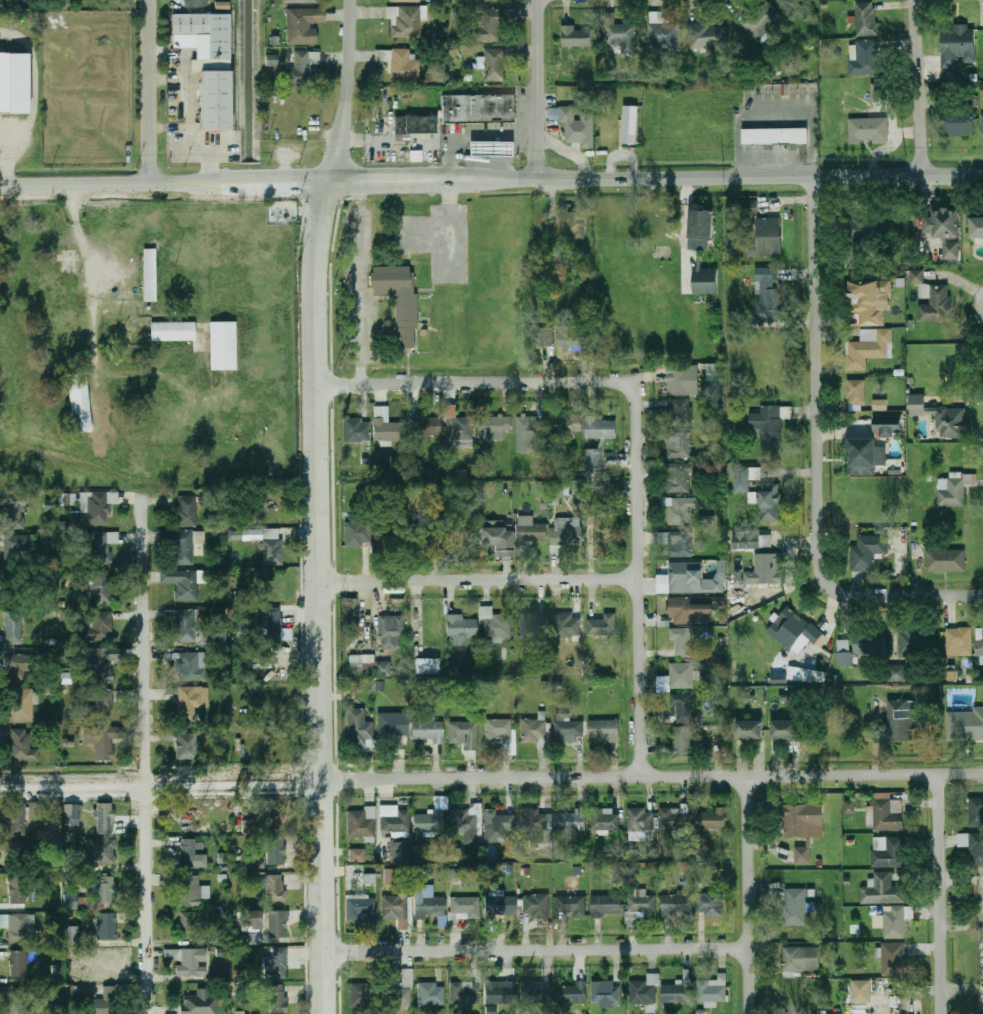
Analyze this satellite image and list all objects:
building: (9, 0)
building: (406, 0)
building: (493, 0)
building: (302, 1)
building: (193, 3)
building: (759, 18)
building: (866, 19)
building: (404, 22)
building: (489, 24)
building: (300, 26)
building: (663, 33)
building: (711, 35)
building: (576, 36)
building: (622, 36)
building: (951, 53)
building: (864, 57)
building: (208, 63)
building: (494, 63)
building: (404, 66)
building: (300, 70)
building: (14, 82)
road: (916, 87)
road: (537, 90)
building: (877, 91)
road: (151, 92)
road: (347, 92)
building: (480, 110)
building: (982, 119)
building: (958, 122)
building: (414, 124)
building: (629, 124)
building: (577, 125)
building: (868, 129)
road: (474, 137)
building: (778, 138)
building: (490, 148)
road: (507, 159)
road: (8, 167)
road: (724, 177)
road: (397, 181)
road: (275, 183)
road: (110, 185)
building: (744, 207)
building: (577, 225)
road: (319, 226)
building: (976, 227)
building: (893, 228)
building: (943, 230)
building: (766, 237)
building: (857, 237)
building: (695, 260)
road: (955, 274)
building: (150, 275)
building: (916, 276)
road: (360, 283)
building: (767, 294)
building: (398, 299)
building: (868, 300)
building: (933, 302)
building: (172, 331)
building: (546, 336)
building: (573, 340)
building: (223, 346)
building: (867, 348)
building: (714, 378)
building: (683, 379)
road: (472, 382)
building: (858, 393)
building: (79, 403)
road: (817, 403)
building: (879, 404)
building: (678, 411)
building: (951, 422)
building: (385, 424)
building: (565, 424)
building: (887, 425)
building: (424, 426)
building: (768, 426)
building: (495, 427)
building: (600, 427)
building: (459, 428)
building: (356, 430)
building: (527, 434)
building: (678, 445)
building: (862, 456)
building: (594, 458)
building: (678, 477)
building: (744, 477)
building: (560, 491)
building: (951, 492)
building: (72, 500)
building: (770, 501)
building: (48, 505)
building: (93, 508)
building: (680, 509)
building: (187, 511)
building: (10, 512)
building: (531, 532)
building: (566, 533)
building: (357, 534)
building: (425, 534)
building: (457, 535)
building: (497, 539)
building: (752, 541)
building: (178, 544)
building: (680, 544)
building: (17, 546)
building: (101, 546)
building: (272, 546)
building: (866, 552)
building: (944, 559)
building: (765, 569)
building: (680, 577)
building: (717, 578)
road: (636, 580)
road: (477, 582)
building: (182, 583)
building: (102, 587)
road: (926, 596)
building: (692, 610)
building: (270, 622)
building: (495, 622)
building: (532, 624)
building: (186, 625)
building: (567, 625)
building: (602, 625)
building: (13, 626)
building: (98, 626)
building: (462, 626)
building: (796, 630)
building: (392, 631)
building: (214, 636)
building: (682, 641)
building: (958, 641)
road: (318, 642)
building: (979, 642)
building: (914, 643)
building: (844, 646)
building: (101, 663)
building: (356, 664)
building: (191, 666)
building: (428, 666)
building: (16, 667)
building: (897, 672)
building: (806, 674)
building: (681, 675)
building: (779, 677)
building: (189, 702)
building: (101, 705)
building: (20, 706)
building: (682, 707)
building: (898, 720)
building: (390, 723)
building: (965, 726)
building: (358, 728)
building: (750, 729)
building: (785, 729)
building: (604, 730)
building: (428, 731)
building: (463, 731)
building: (534, 731)
building: (569, 731)
building: (500, 732)
building: (682, 741)
building: (103, 743)
building: (188, 745)
building: (21, 746)
road: (148, 755)
road: (651, 775)
road: (129, 782)
building: (849, 806)
building: (36, 811)
building: (70, 811)
building: (888, 812)
building: (976, 812)
building: (272, 815)
building: (15, 817)
building: (432, 817)
building: (106, 818)
building: (711, 818)
building: (466, 819)
building: (674, 819)
building: (798, 819)
building: (393, 820)
building: (571, 820)
building: (605, 820)
building: (641, 820)
building: (361, 822)
building: (498, 825)
building: (534, 825)
building: (972, 845)
building: (276, 850)
building: (100, 851)
building: (188, 852)
building: (399, 852)
building: (888, 852)
building: (632, 854)
building: (357, 855)
building: (802, 855)
building: (223, 858)
building: (389, 876)
building: (276, 889)
building: (18, 890)
building: (106, 890)
building: (882, 890)
building: (192, 891)
road: (941, 893)
road: (745, 894)
building: (70, 901)
building: (428, 901)
building: (709, 903)
building: (572, 904)
building: (641, 904)
building: (676, 904)
building: (500, 905)
building: (536, 905)
building: (607, 905)
building: (795, 906)
building: (465, 907)
building: (360, 908)
building: (396, 909)
building: (410, 913)
building: (219, 919)
building: (251, 920)
building: (277, 923)
building: (894, 923)
building: (109, 924)
building: (189, 925)
building: (16, 926)
building: (73, 936)
road: (534, 950)
building: (893, 958)
building: (793, 960)
building: (188, 961)
building: (19, 964)
building: (276, 964)
building: (105, 969)
building: (712, 988)
building: (399, 990)
building: (644, 990)
building: (500, 991)
building: (534, 991)
building: (679, 991)
building: (861, 991)
building: (428, 993)
building: (463, 993)
building: (571, 993)
building: (606, 993)
building: (362, 995)
building: (18, 999)
building: (278, 999)
building: (200, 1003)
building: (105, 1005)
building: (491, 1009)

